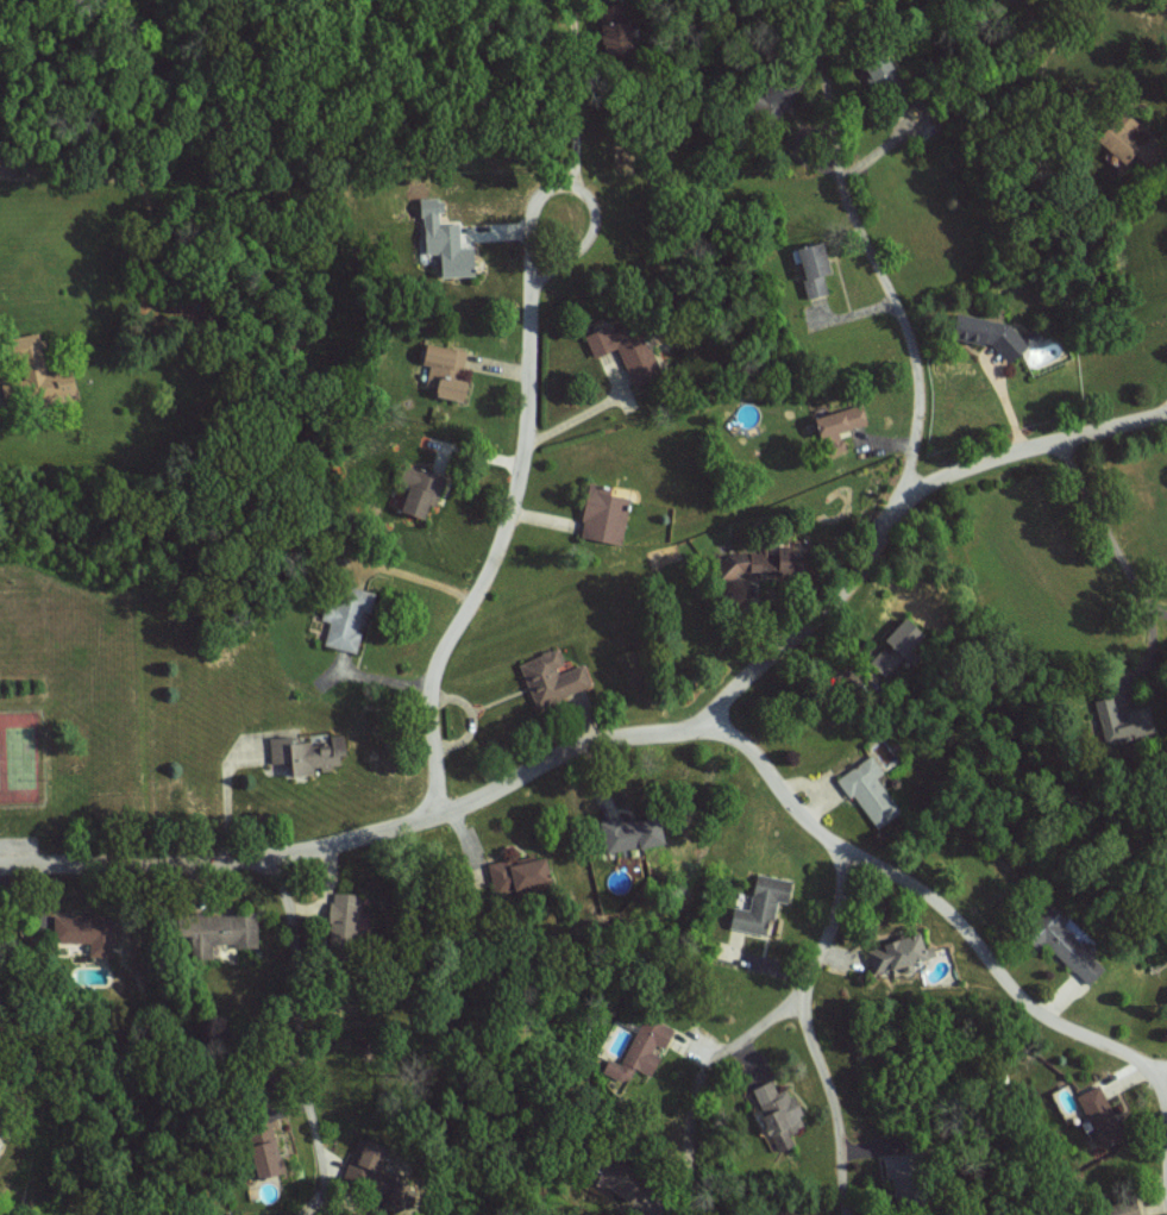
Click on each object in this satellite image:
building: (873, 70)
road: (575, 94)
building: (1121, 138)
building: (447, 240)
building: (815, 268)
building: (990, 334)
building: (623, 347)
building: (446, 371)
building: (38, 374)
road: (921, 393)
building: (842, 419)
road: (525, 427)
road: (1039, 444)
building: (421, 490)
building: (607, 515)
road: (1100, 527)
building: (761, 563)
building: (349, 619)
building: (908, 635)
building: (554, 677)
road: (639, 733)
building: (309, 752)
building: (870, 790)
building: (635, 833)
building: (522, 873)
building: (763, 904)
building: (343, 916)
building: (88, 932)
building: (220, 932)
building: (1069, 948)
building: (898, 953)
road: (757, 1025)
road: (299, 1031)
road: (809, 1033)
building: (642, 1050)
road: (1159, 1086)
building: (780, 1114)
building: (1102, 1116)
building: (364, 1163)
road: (302, 1172)

